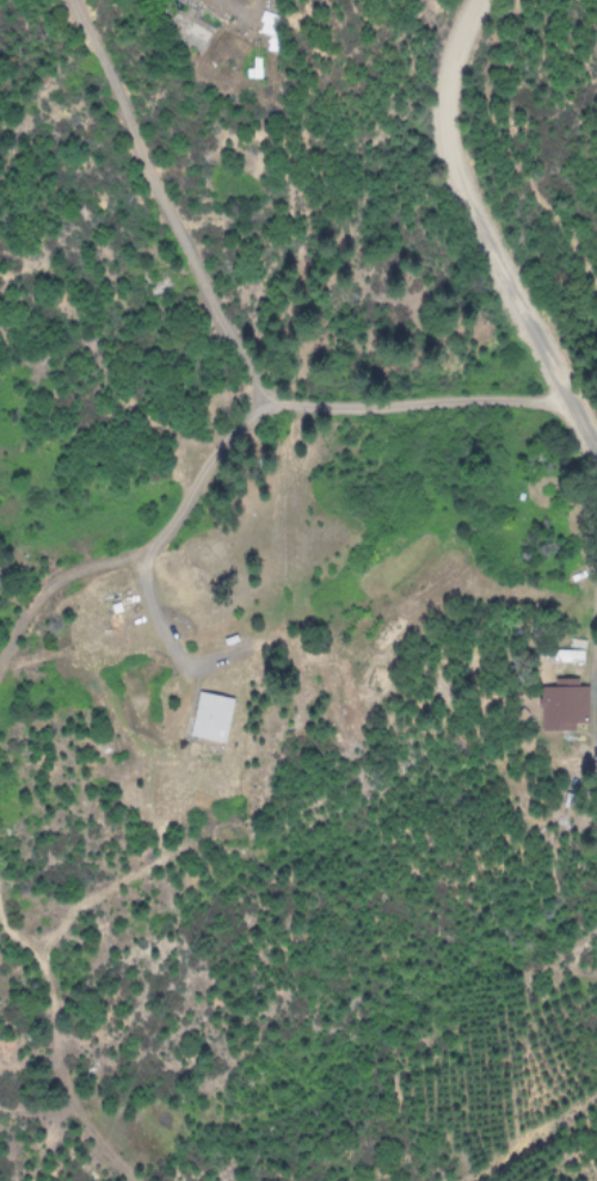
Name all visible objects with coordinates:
road: (481, 233)
road: (228, 339)
building: (564, 705)
building: (210, 718)

